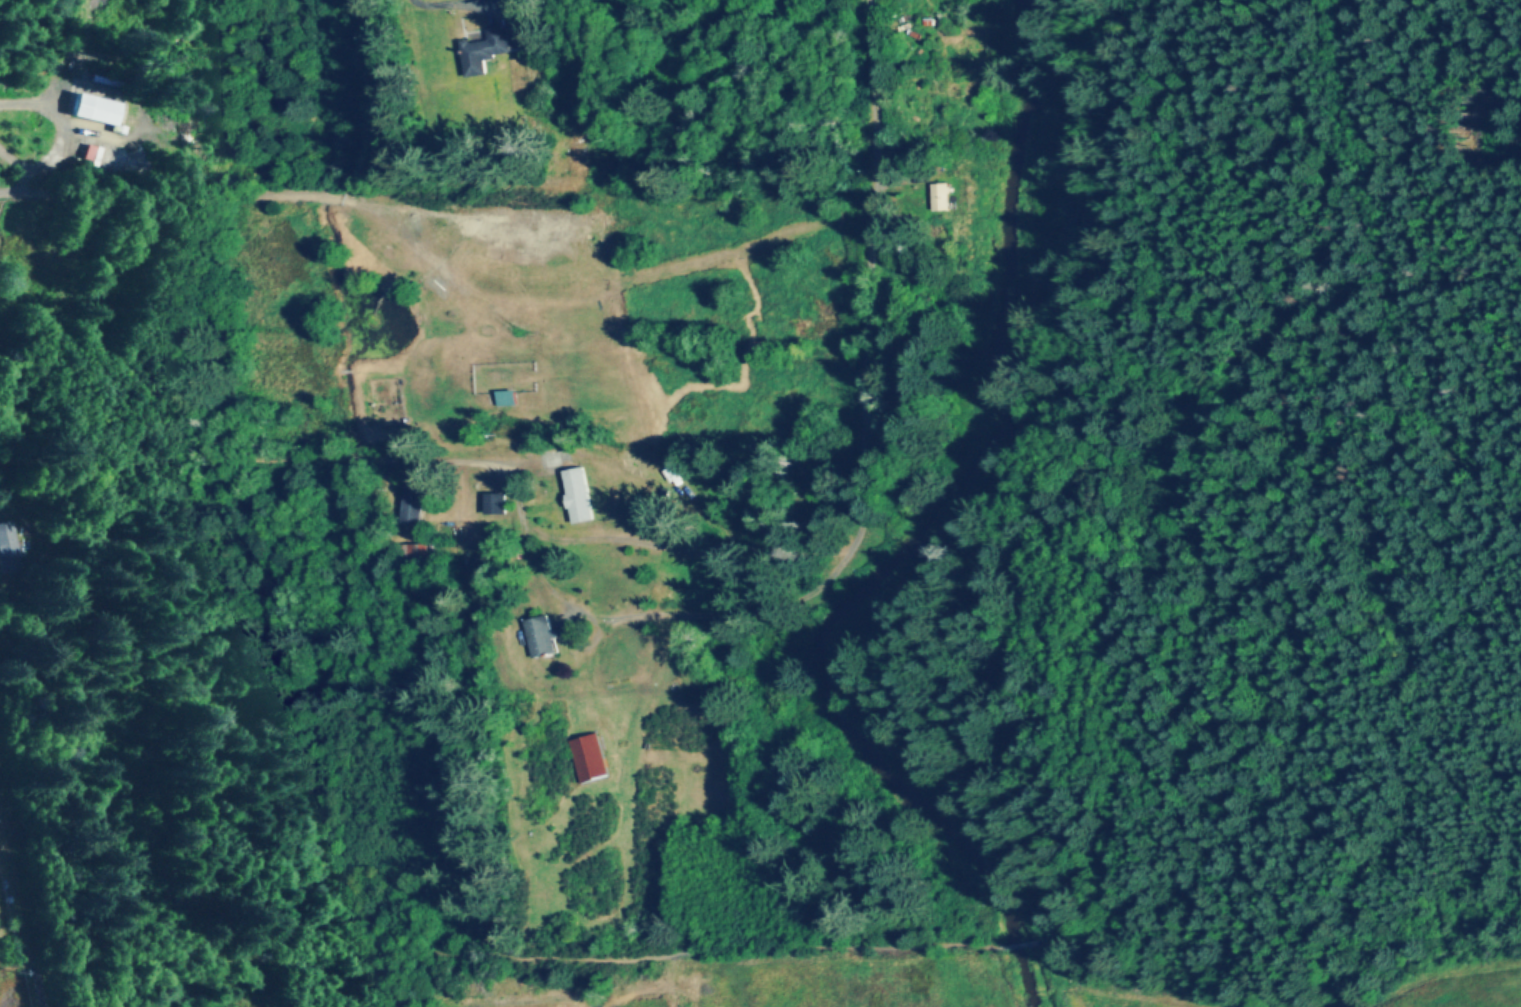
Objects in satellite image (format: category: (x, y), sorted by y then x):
building: (489, 50)
building: (98, 110)
road: (23, 191)
road: (242, 195)
building: (945, 195)
road: (869, 408)
building: (827, 463)
building: (579, 495)
building: (415, 502)
building: (497, 504)
river: (921, 546)
building: (10, 549)
building: (414, 558)
park: (1237, 565)
road: (1515, 592)
road: (569, 635)
building: (539, 636)
road: (1194, 674)
building: (589, 758)
road: (21, 873)
road: (1025, 942)
railway: (16, 943)
road: (501, 951)

